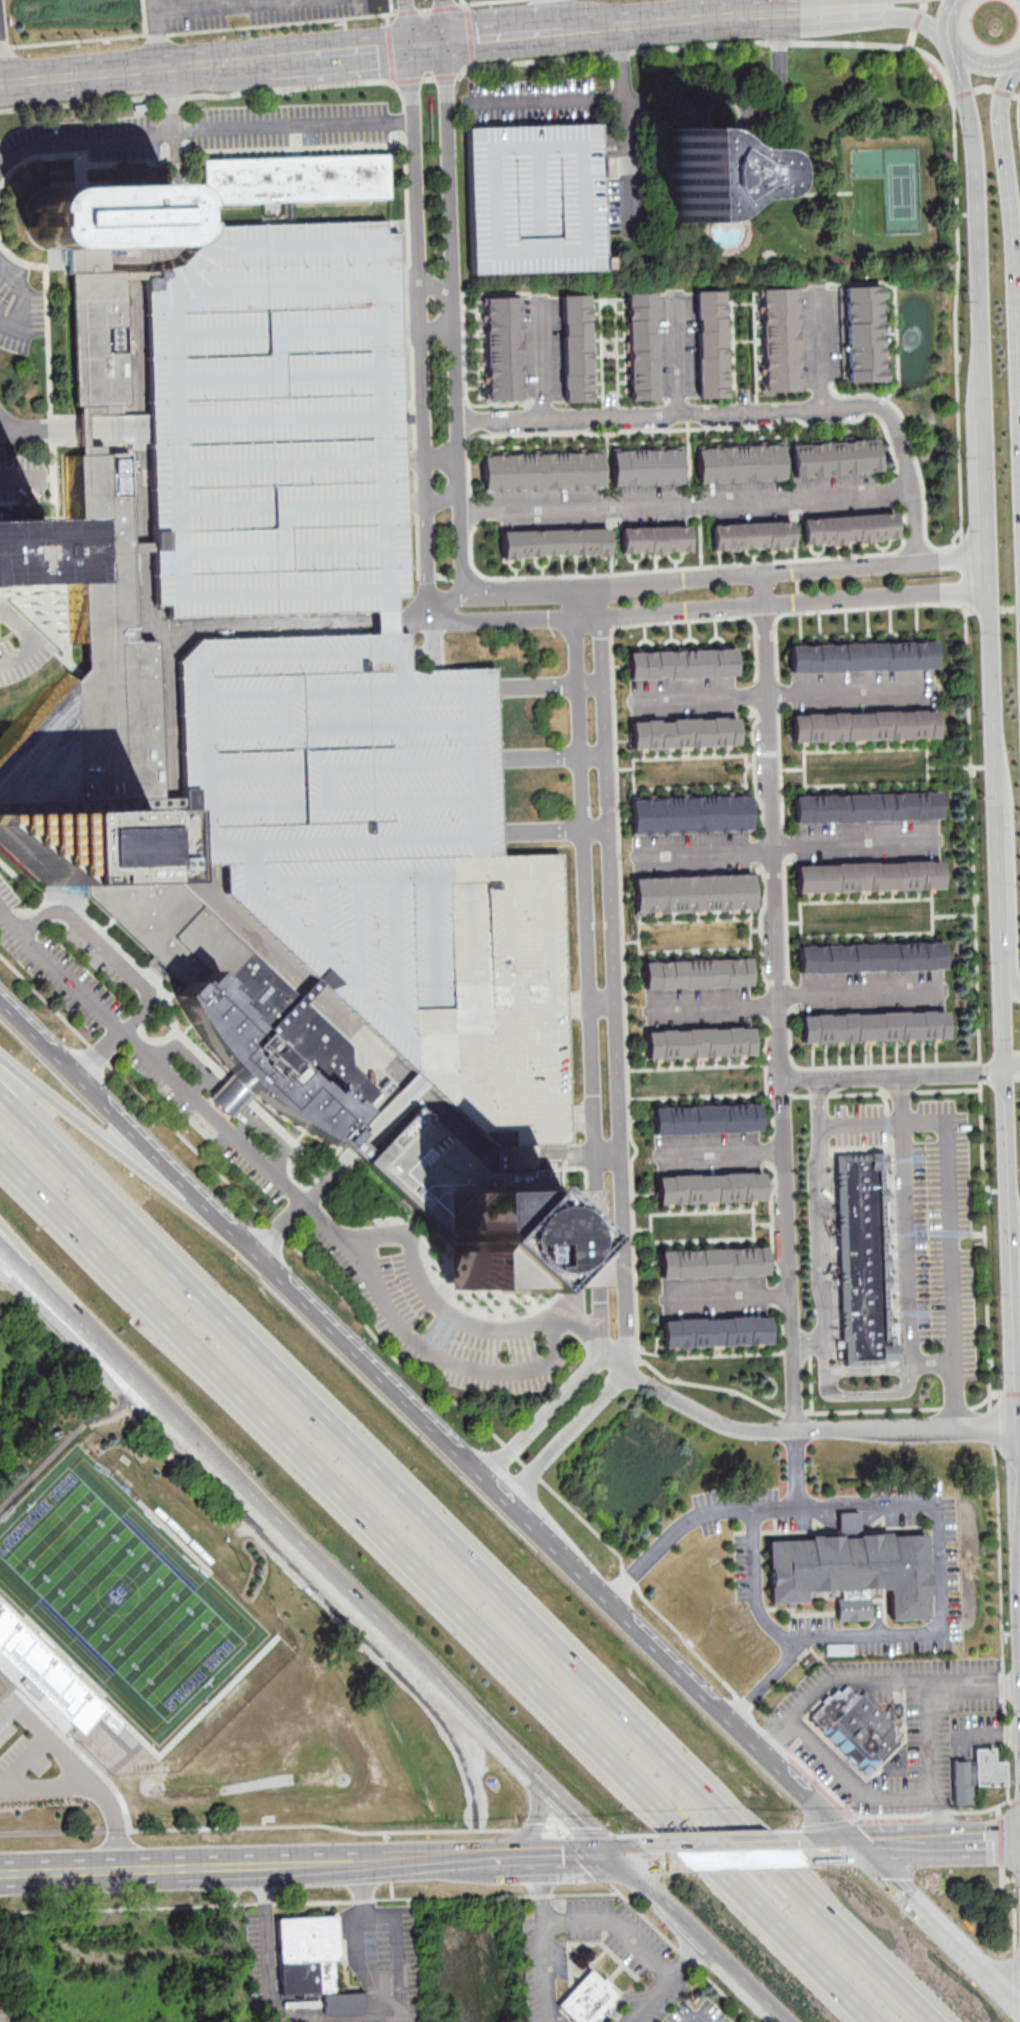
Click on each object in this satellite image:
road: (483, 1)
road: (822, 5)
road: (391, 6)
road: (447, 8)
road: (717, 9)
road: (425, 10)
parking lot: (260, 11)
road: (408, 11)
road: (949, 14)
road: (552, 16)
road: (877, 17)
road: (387, 18)
road: (439, 22)
road: (406, 23)
road: (281, 24)
road: (624, 26)
road: (155, 34)
road: (470, 34)
road: (153, 35)
road: (77, 40)
road: (725, 43)
traffic signals: (441, 45)
road: (4, 46)
road: (425, 46)
road: (5, 47)
road: (949, 47)
traffic signals: (409, 48)
road: (391, 53)
road: (282, 59)
road: (619, 62)
road: (1015, 66)
road: (983, 69)
road: (466, 70)
road: (77, 76)
road: (445, 77)
road: (429, 79)
road: (407, 80)
road: (985, 87)
road: (195, 96)
road: (549, 100)
road: (167, 102)
road: (742, 111)
road: (1001, 113)
road: (203, 132)
road: (626, 161)
building: (705, 174)
building: (295, 179)
building: (534, 196)
parking lot: (534, 196)
road: (289, 213)
building: (104, 216)
road: (977, 233)
road: (141, 276)
road: (436, 287)
road: (25, 297)
road: (607, 299)
road: (896, 308)
road: (462, 310)
road: (454, 319)
road: (420, 328)
road: (1010, 330)
road: (438, 333)
building: (863, 334)
road: (733, 337)
building: (779, 339)
building: (710, 344)
building: (642, 346)
building: (577, 347)
road: (755, 347)
building: (503, 349)
road: (821, 354)
road: (678, 357)
road: (542, 361)
road: (746, 388)
road: (611, 391)
road: (498, 404)
road: (750, 410)
parking lot: (280, 423)
road: (720, 427)
road: (442, 454)
building: (834, 457)
road: (915, 457)
road: (689, 463)
building: (739, 464)
building: (647, 467)
building: (542, 470)
road: (985, 480)
road: (444, 499)
road: (686, 505)
building: (848, 528)
building: (750, 535)
building: (654, 539)
road: (795, 539)
road: (700, 541)
building: (554, 542)
road: (144, 547)
building: (23, 550)
road: (611, 552)
road: (624, 572)
road: (726, 577)
road: (585, 603)
road: (698, 611)
road: (29, 641)
building: (861, 656)
building: (681, 663)
road: (990, 666)
building: (340, 673)
parking lot: (340, 673)
road: (776, 681)
road: (550, 686)
road: (786, 693)
building: (863, 725)
building: (683, 733)
road: (927, 752)
road: (552, 757)
road: (684, 757)
road: (949, 767)
building: (80, 768)
road: (688, 787)
road: (171, 801)
building: (867, 808)
building: (689, 814)
road: (554, 831)
building: (79, 844)
road: (786, 848)
parking lot: (385, 857)
road: (995, 857)
road: (764, 871)
building: (869, 876)
building: (692, 893)
road: (621, 897)
road: (690, 920)
road: (804, 935)
road: (696, 949)
road: (103, 950)
road: (976, 950)
road: (1005, 952)
building: (871, 958)
building: (697, 974)
road: (311, 990)
road: (861, 992)
road: (615, 994)
road: (590, 1003)
road: (779, 1003)
road: (712, 1007)
building: (873, 1027)
building: (698, 1043)
road: (99, 1055)
road: (151, 1058)
building: (260, 1063)
road: (815, 1067)
road: (592, 1070)
road: (1010, 1070)
road: (891, 1075)
road: (766, 1079)
road: (197, 1084)
road: (412, 1087)
road: (1001, 1090)
road: (887, 1092)
road: (230, 1098)
road: (884, 1102)
building: (705, 1118)
road: (246, 1130)
road: (720, 1152)
road: (124, 1154)
road: (563, 1155)
road: (498, 1157)
building: (708, 1188)
road: (303, 1204)
road: (702, 1211)
road: (951, 1217)
road: (822, 1225)
road: (754, 1231)
building: (500, 1237)
road: (695, 1240)
parking lot: (935, 1240)
road: (253, 1251)
road: (15, 1257)
road: (573, 1258)
building: (863, 1258)
building: (712, 1262)
road: (3, 1273)
road: (903, 1277)
road: (1011, 1280)
road: (779, 1293)
road: (727, 1296)
road: (433, 1304)
road: (51, 1317)
road: (370, 1329)
road: (1016, 1329)
building: (714, 1331)
road: (439, 1358)
road: (614, 1362)
road: (1014, 1368)
road: (811, 1384)
road: (809, 1412)
road: (813, 1432)
road: (568, 1435)
road: (59, 1448)
road: (1018, 1462)
road: (725, 1507)
road: (265, 1508)
building: (848, 1523)
road: (553, 1541)
road: (467, 1559)
building: (852, 1572)
road: (309, 1582)
road: (753, 1582)
road: (439, 1589)
park: (121, 1594)
road: (634, 1623)
road: (937, 1627)
road: (874, 1680)
building: (858, 1728)
road: (930, 1735)
road: (47, 1739)
parking lot: (21, 1752)
road: (764, 1754)
building: (976, 1774)
road: (106, 1778)
road: (852, 1784)
road: (44, 1788)
road: (958, 1811)
road: (573, 1814)
road: (943, 1814)
road: (113, 1821)
road: (535, 1826)
road: (557, 1828)
road: (258, 1829)
road: (531, 1829)
road: (993, 1842)
road: (955, 1843)
road: (900, 1846)
traffic signals: (857, 1848)
road: (828, 1849)
road: (733, 1853)
road: (587, 1857)
road: (642, 1857)
traffic signals: (617, 1858)
road: (577, 1859)
road: (514, 1861)
road: (348, 1865)
road: (102, 1871)
road: (539, 1890)
road: (430, 1898)
road: (233, 1905)
road: (112, 1908)
road: (614, 1926)
road: (937, 1927)
road: (701, 1941)
road: (236, 1945)
road: (358, 1946)
road: (681, 1951)
road: (267, 1953)
road: (687, 1960)
building: (314, 1963)
road: (544, 1971)
building: (588, 1998)
road: (649, 1999)
road: (695, 2020)

